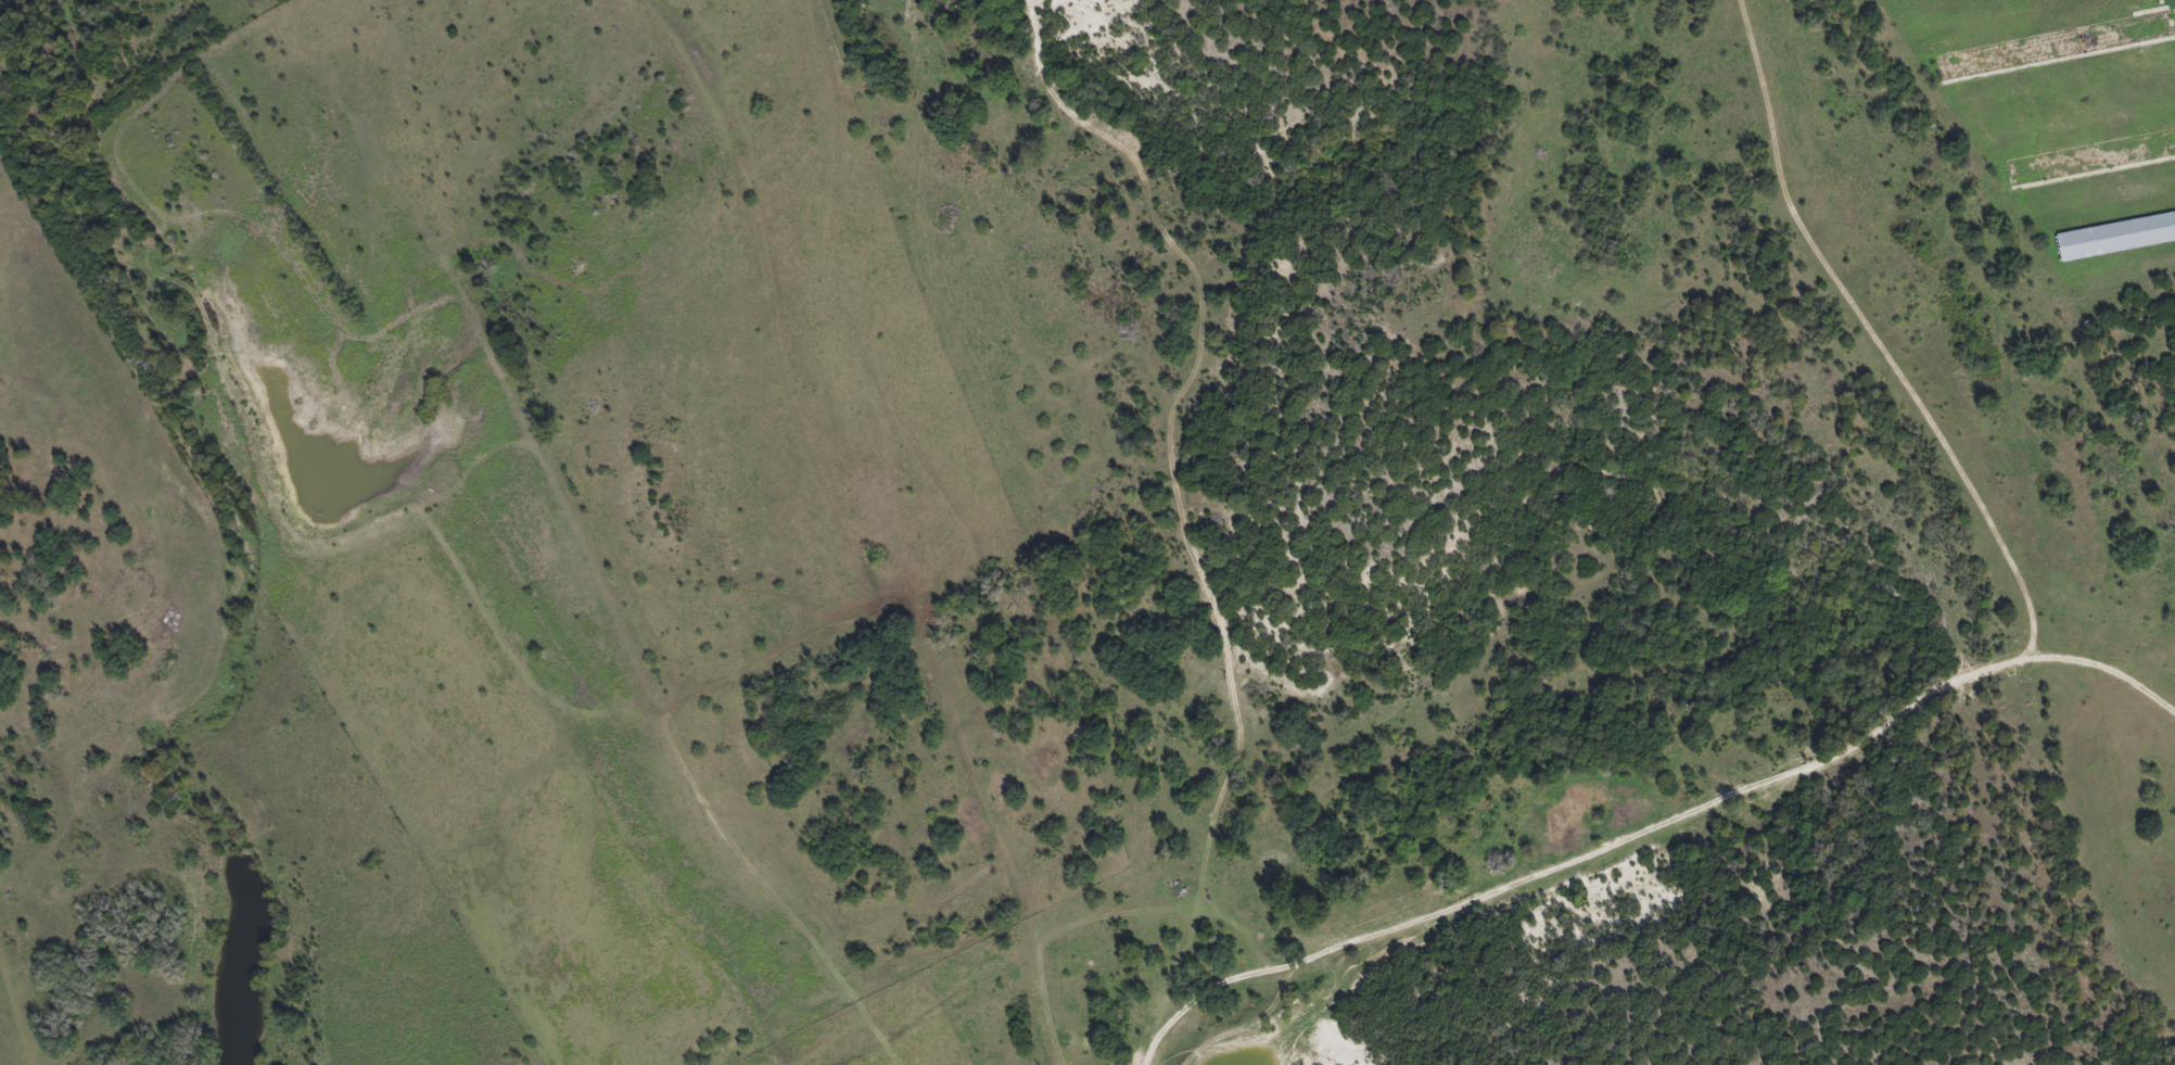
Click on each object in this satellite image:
building: (2026, 173)
building: (2117, 234)

